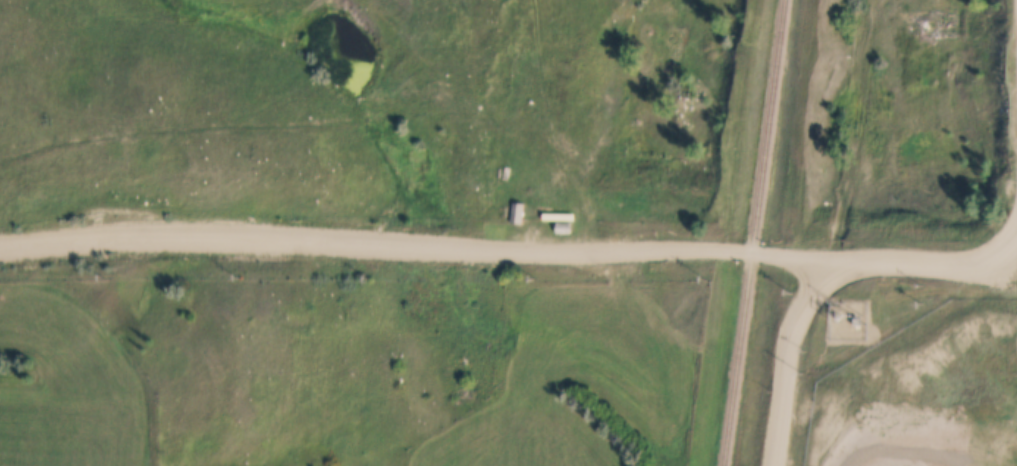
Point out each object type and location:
building: (517, 211)
building: (564, 226)
railway: (755, 232)
road: (693, 245)
road: (995, 252)
road: (993, 270)
road: (808, 295)
power substation: (848, 318)
quarry: (933, 395)
road: (942, 431)

